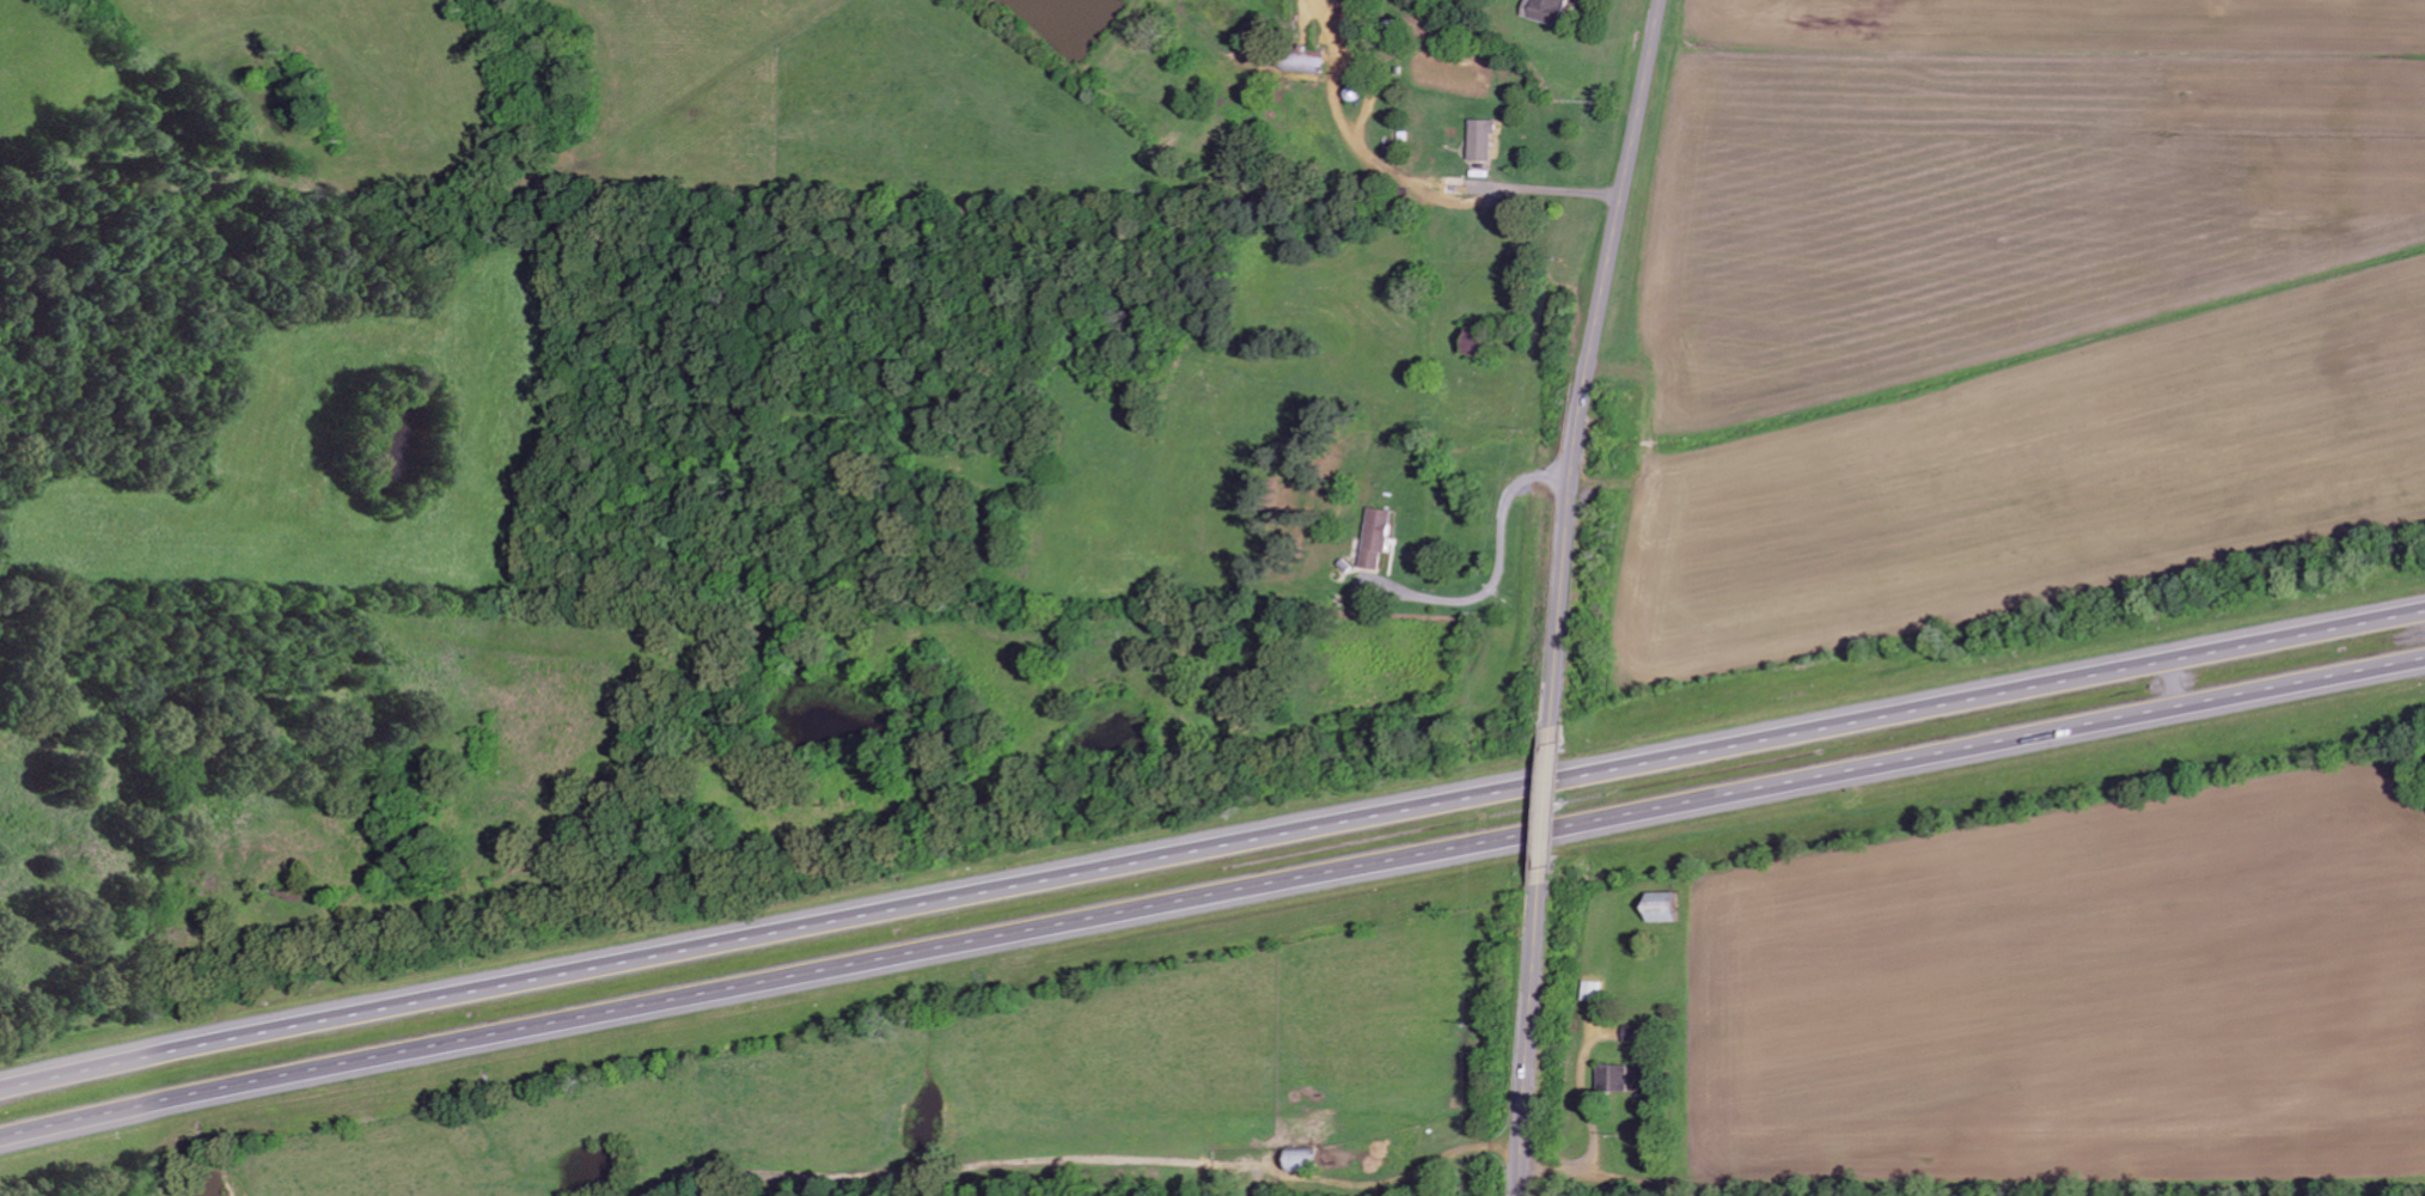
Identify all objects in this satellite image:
building: (1552, 11)
building: (1488, 138)
road: (1593, 361)
building: (1380, 537)
road: (1437, 554)
road: (1540, 805)
road: (1211, 841)
road: (1211, 897)
building: (1669, 907)
road: (1531, 1039)
building: (1617, 1078)

